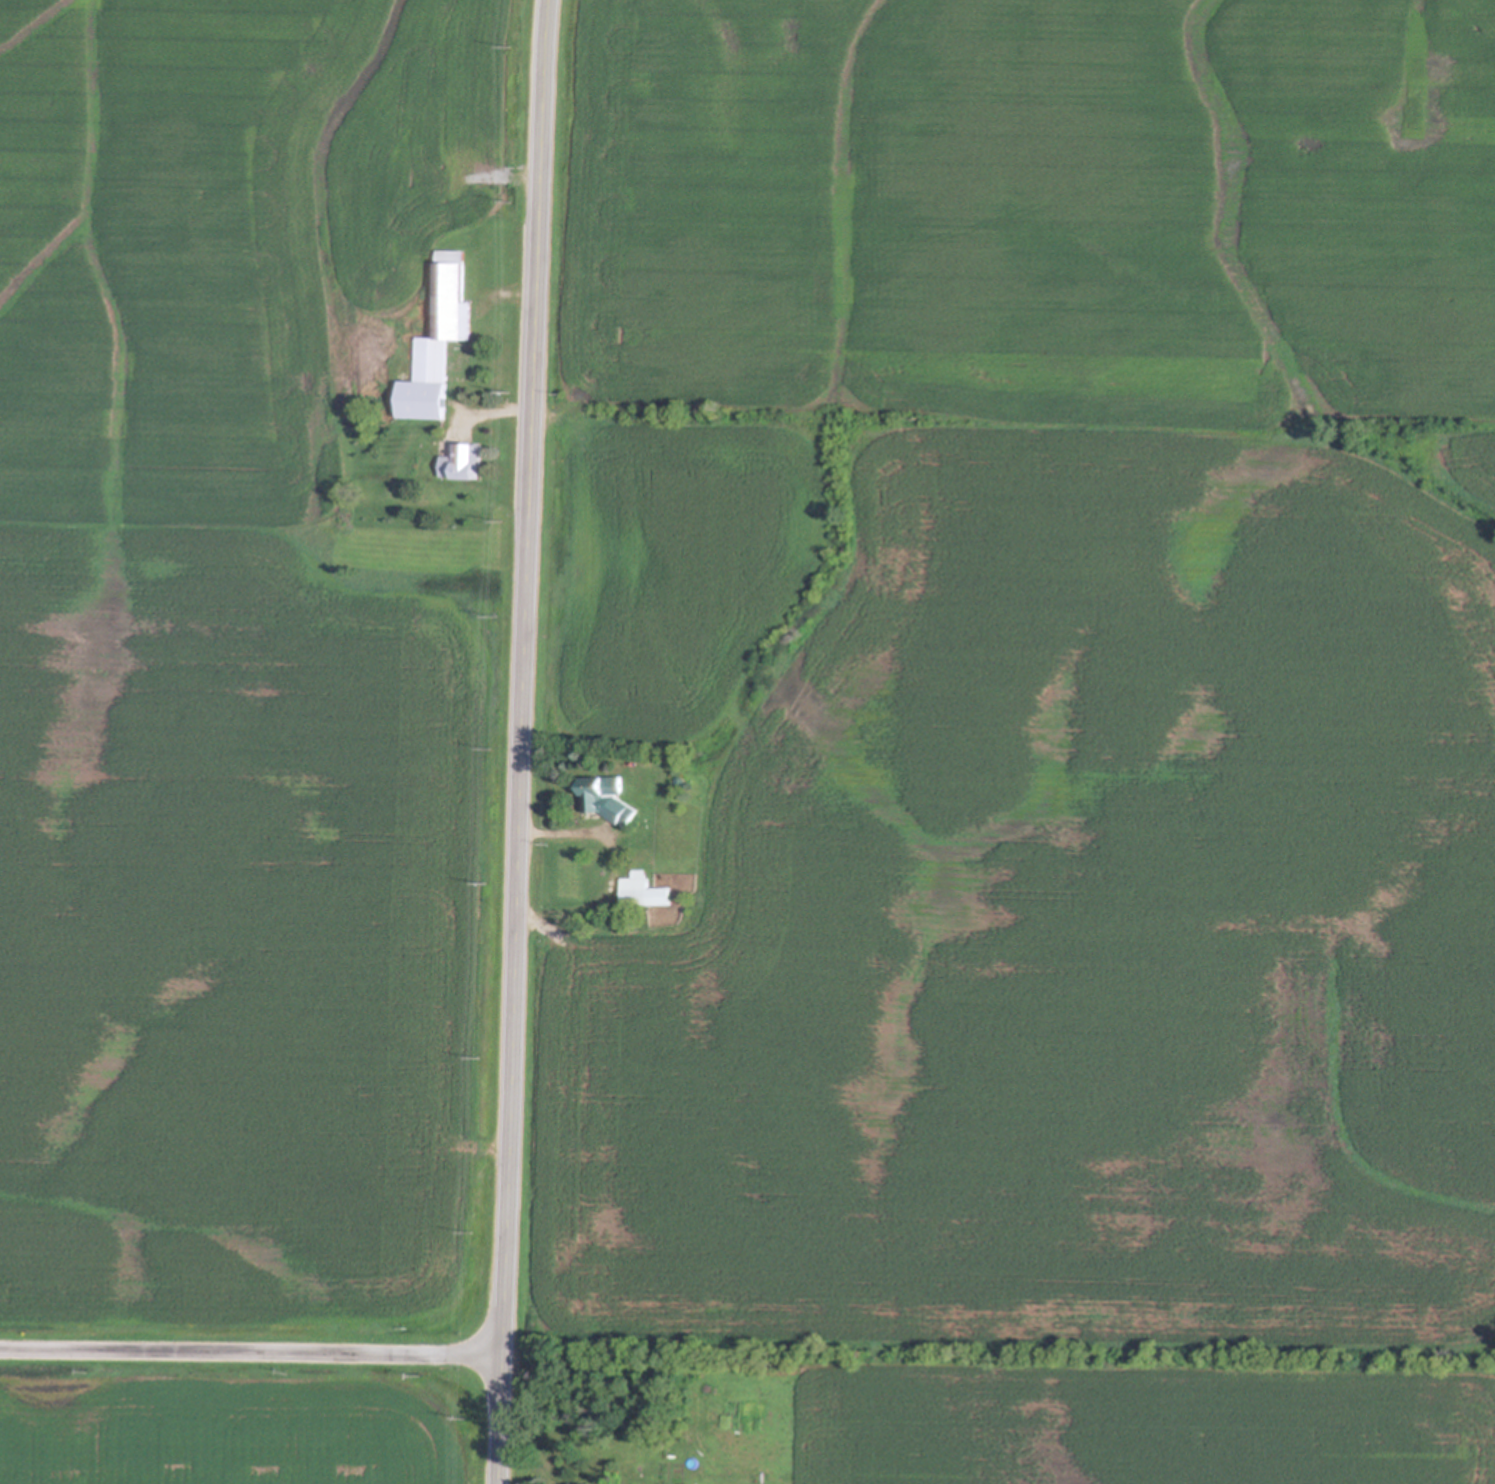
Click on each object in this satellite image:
building: (419, 270)
building: (383, 274)
building: (440, 341)
building: (465, 462)
road: (520, 741)
building: (681, 781)
building: (610, 800)
road: (615, 869)
building: (645, 892)
road: (249, 1352)

